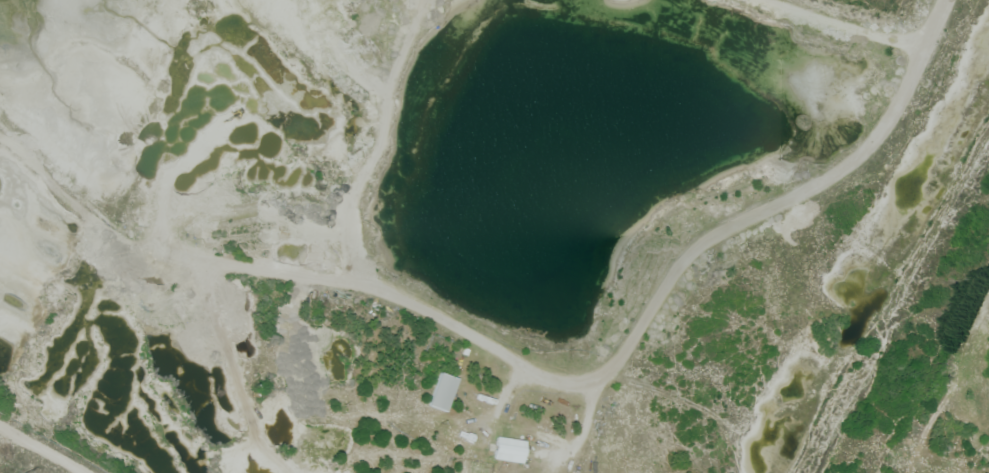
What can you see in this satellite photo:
building: (443, 391)
road: (44, 447)
building: (510, 449)
power plant: (37, 452)

